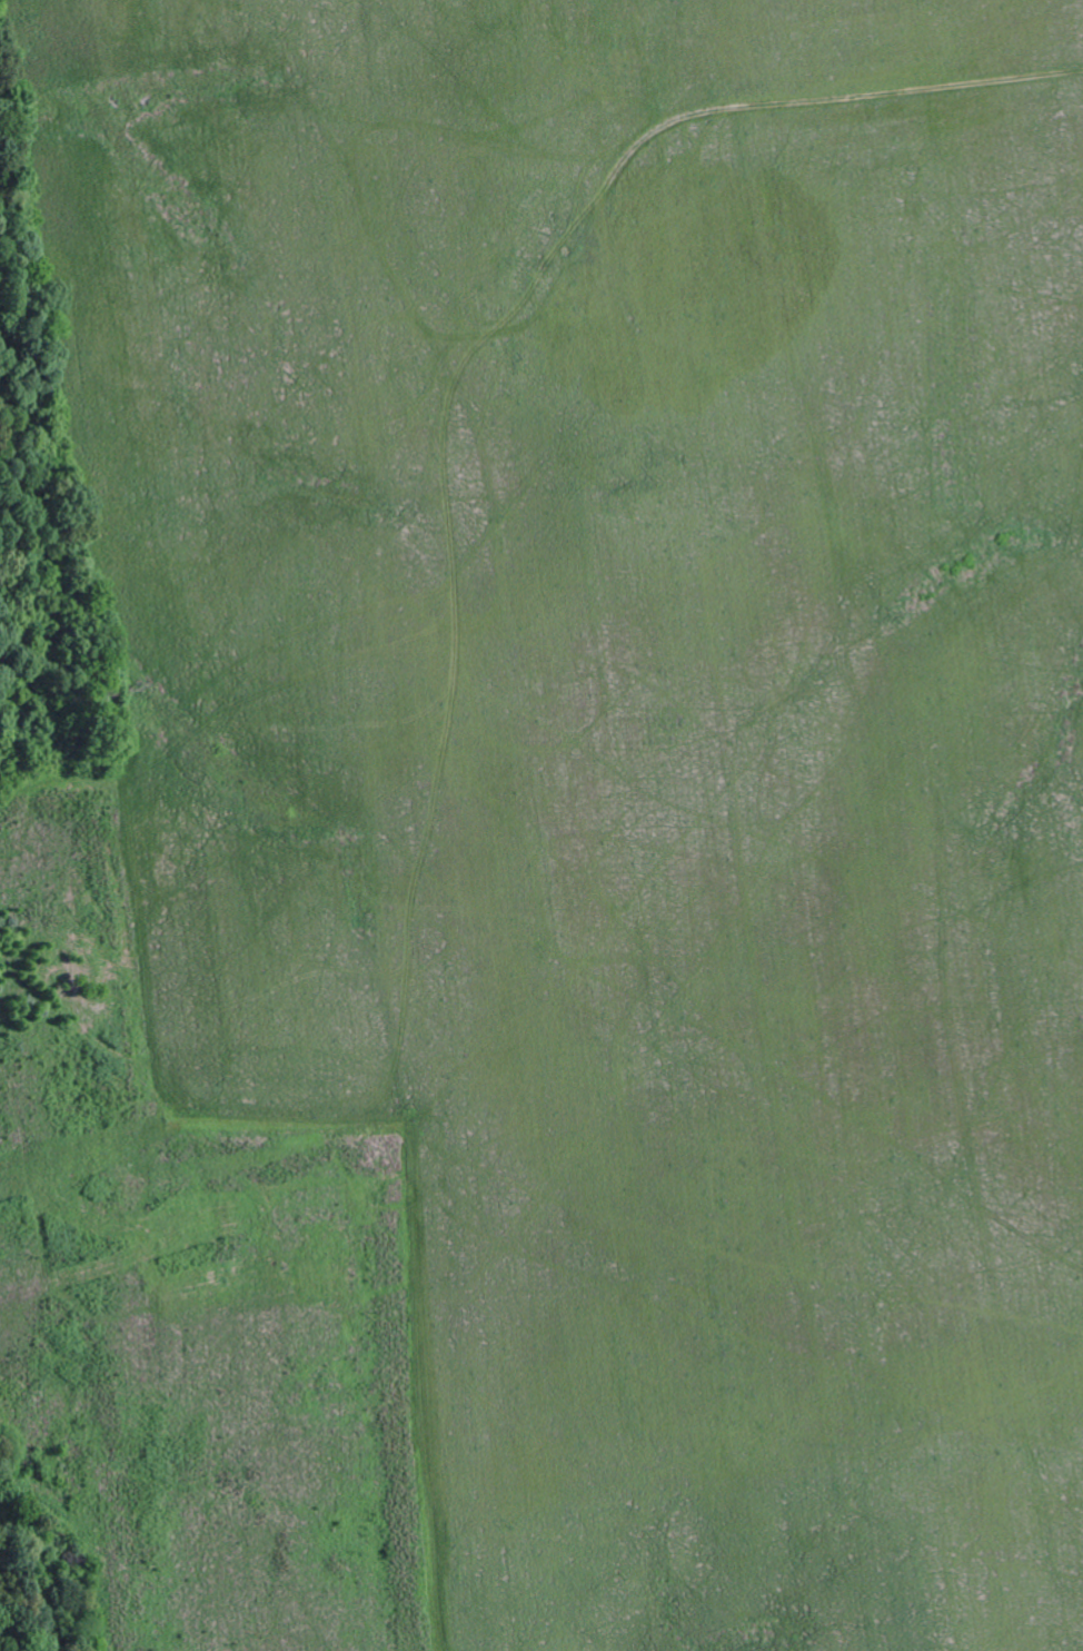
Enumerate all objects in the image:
road: (773, 88)

